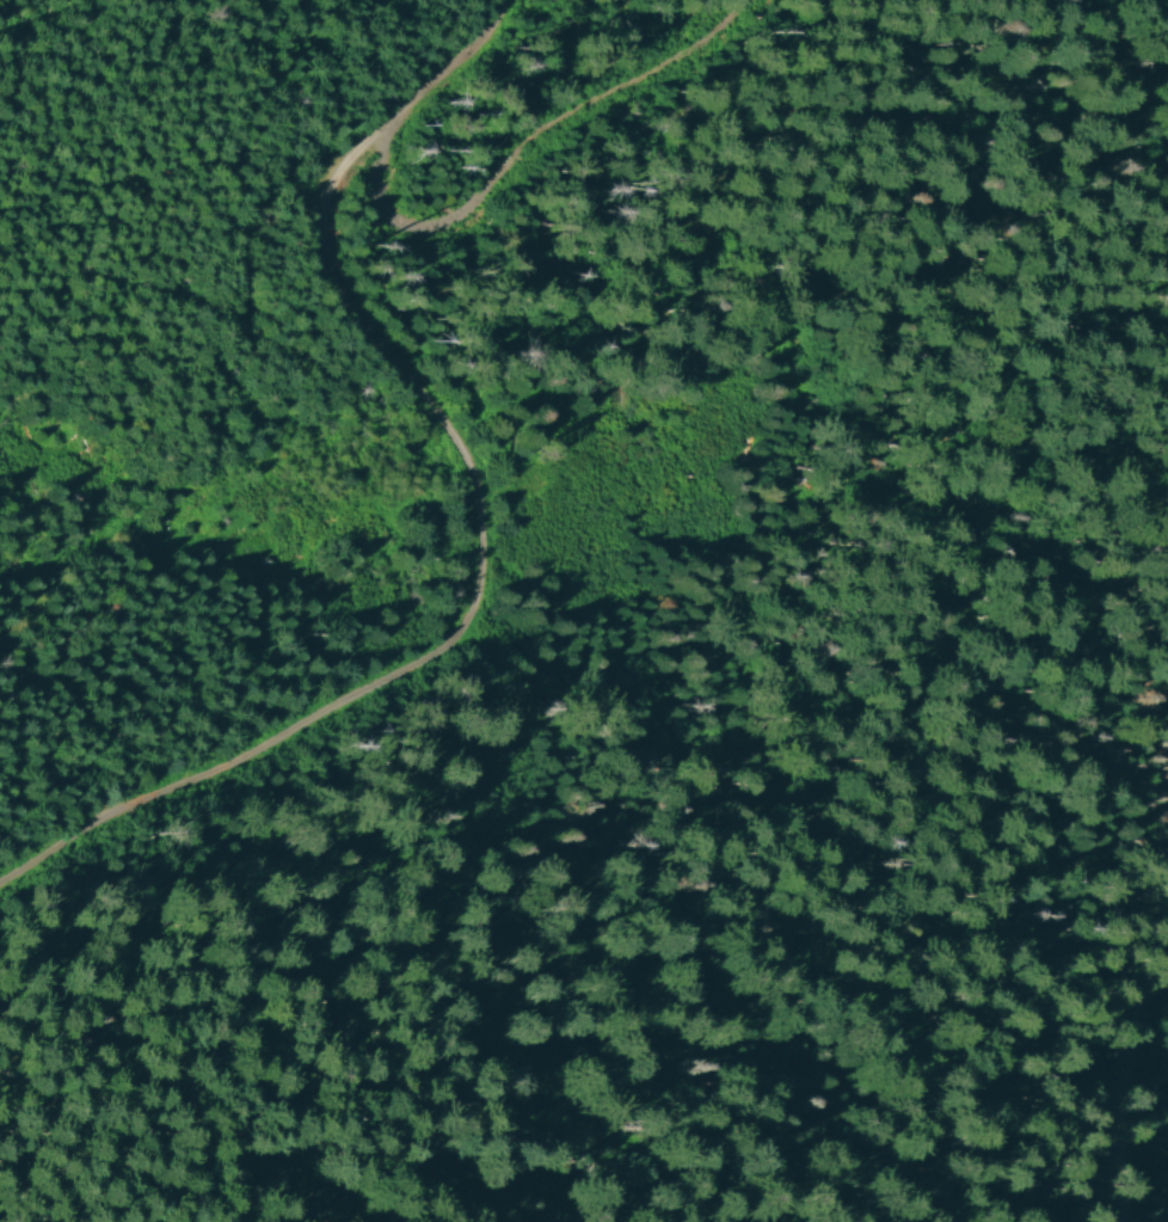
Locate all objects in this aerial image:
road: (518, 164)
road: (1088, 170)
road: (492, 509)
road: (1106, 944)
road: (752, 1034)
road: (1120, 1061)

